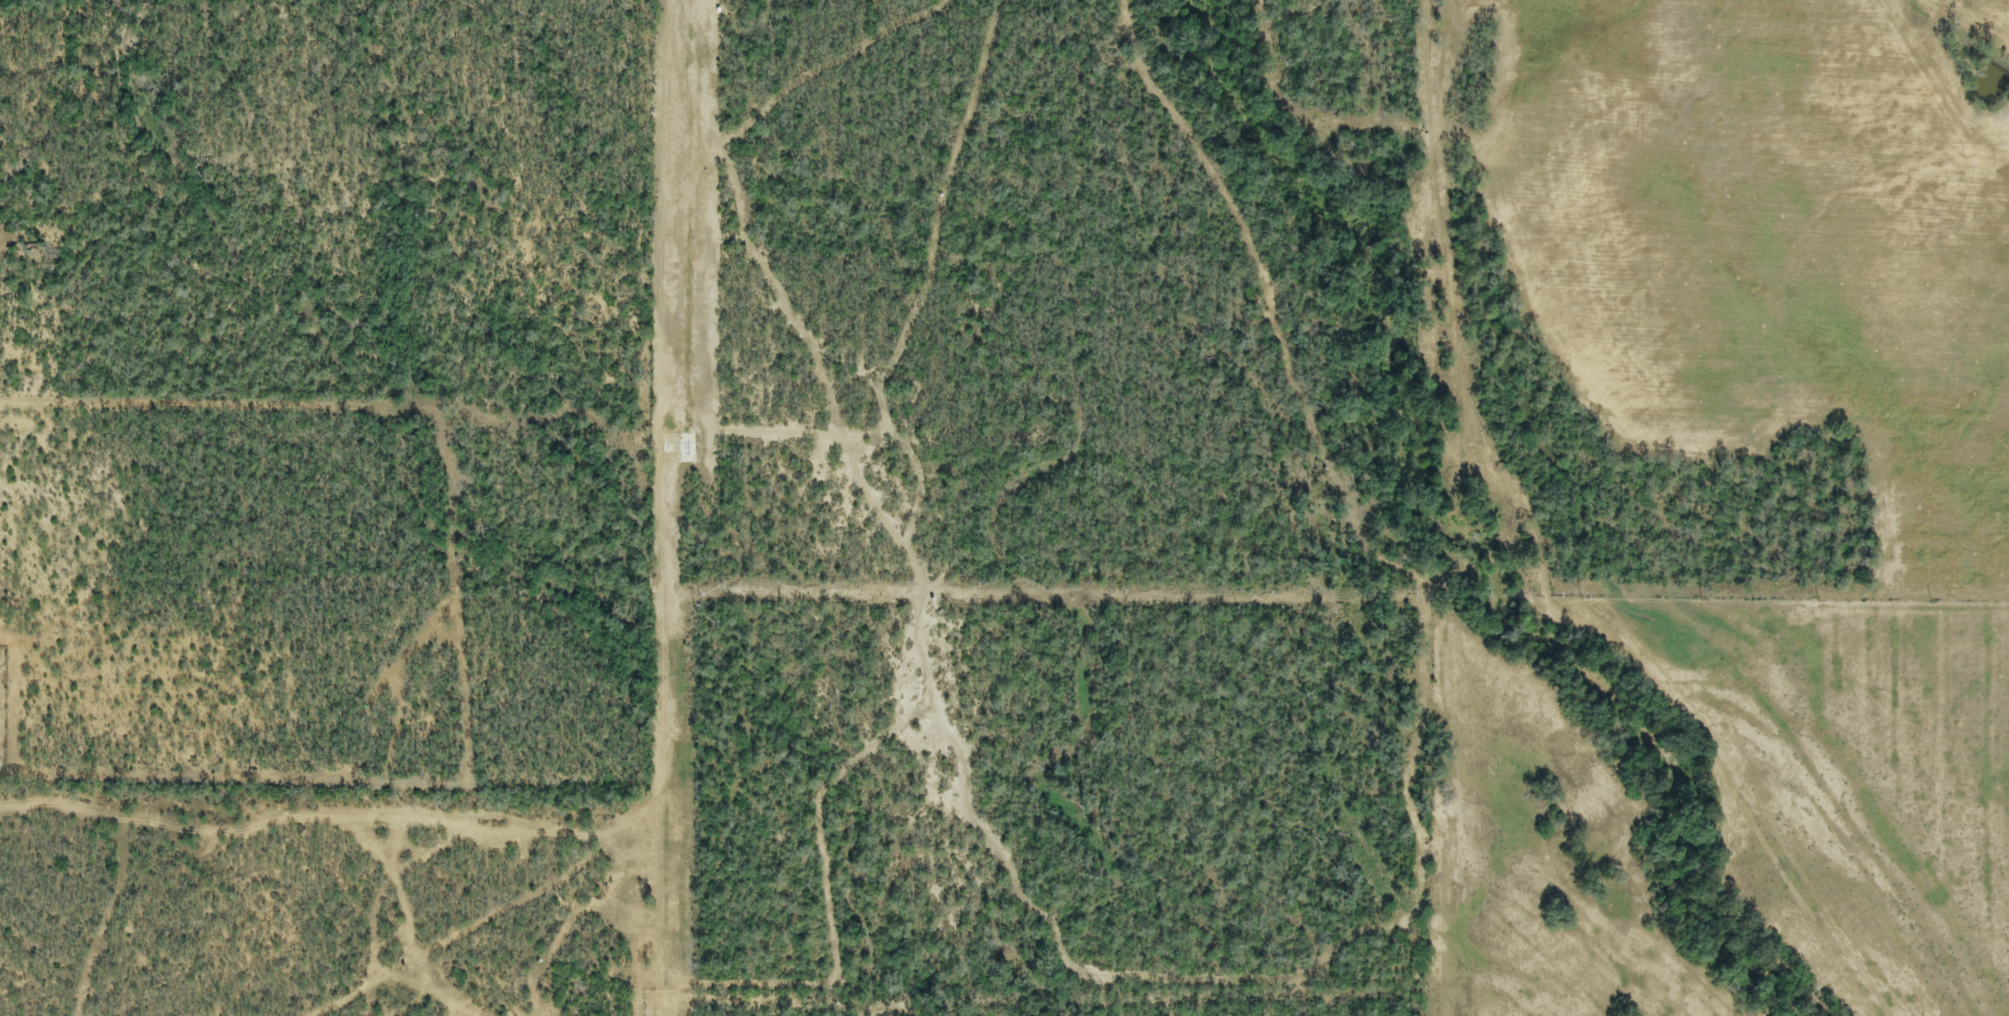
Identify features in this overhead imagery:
park: (2, 714)

